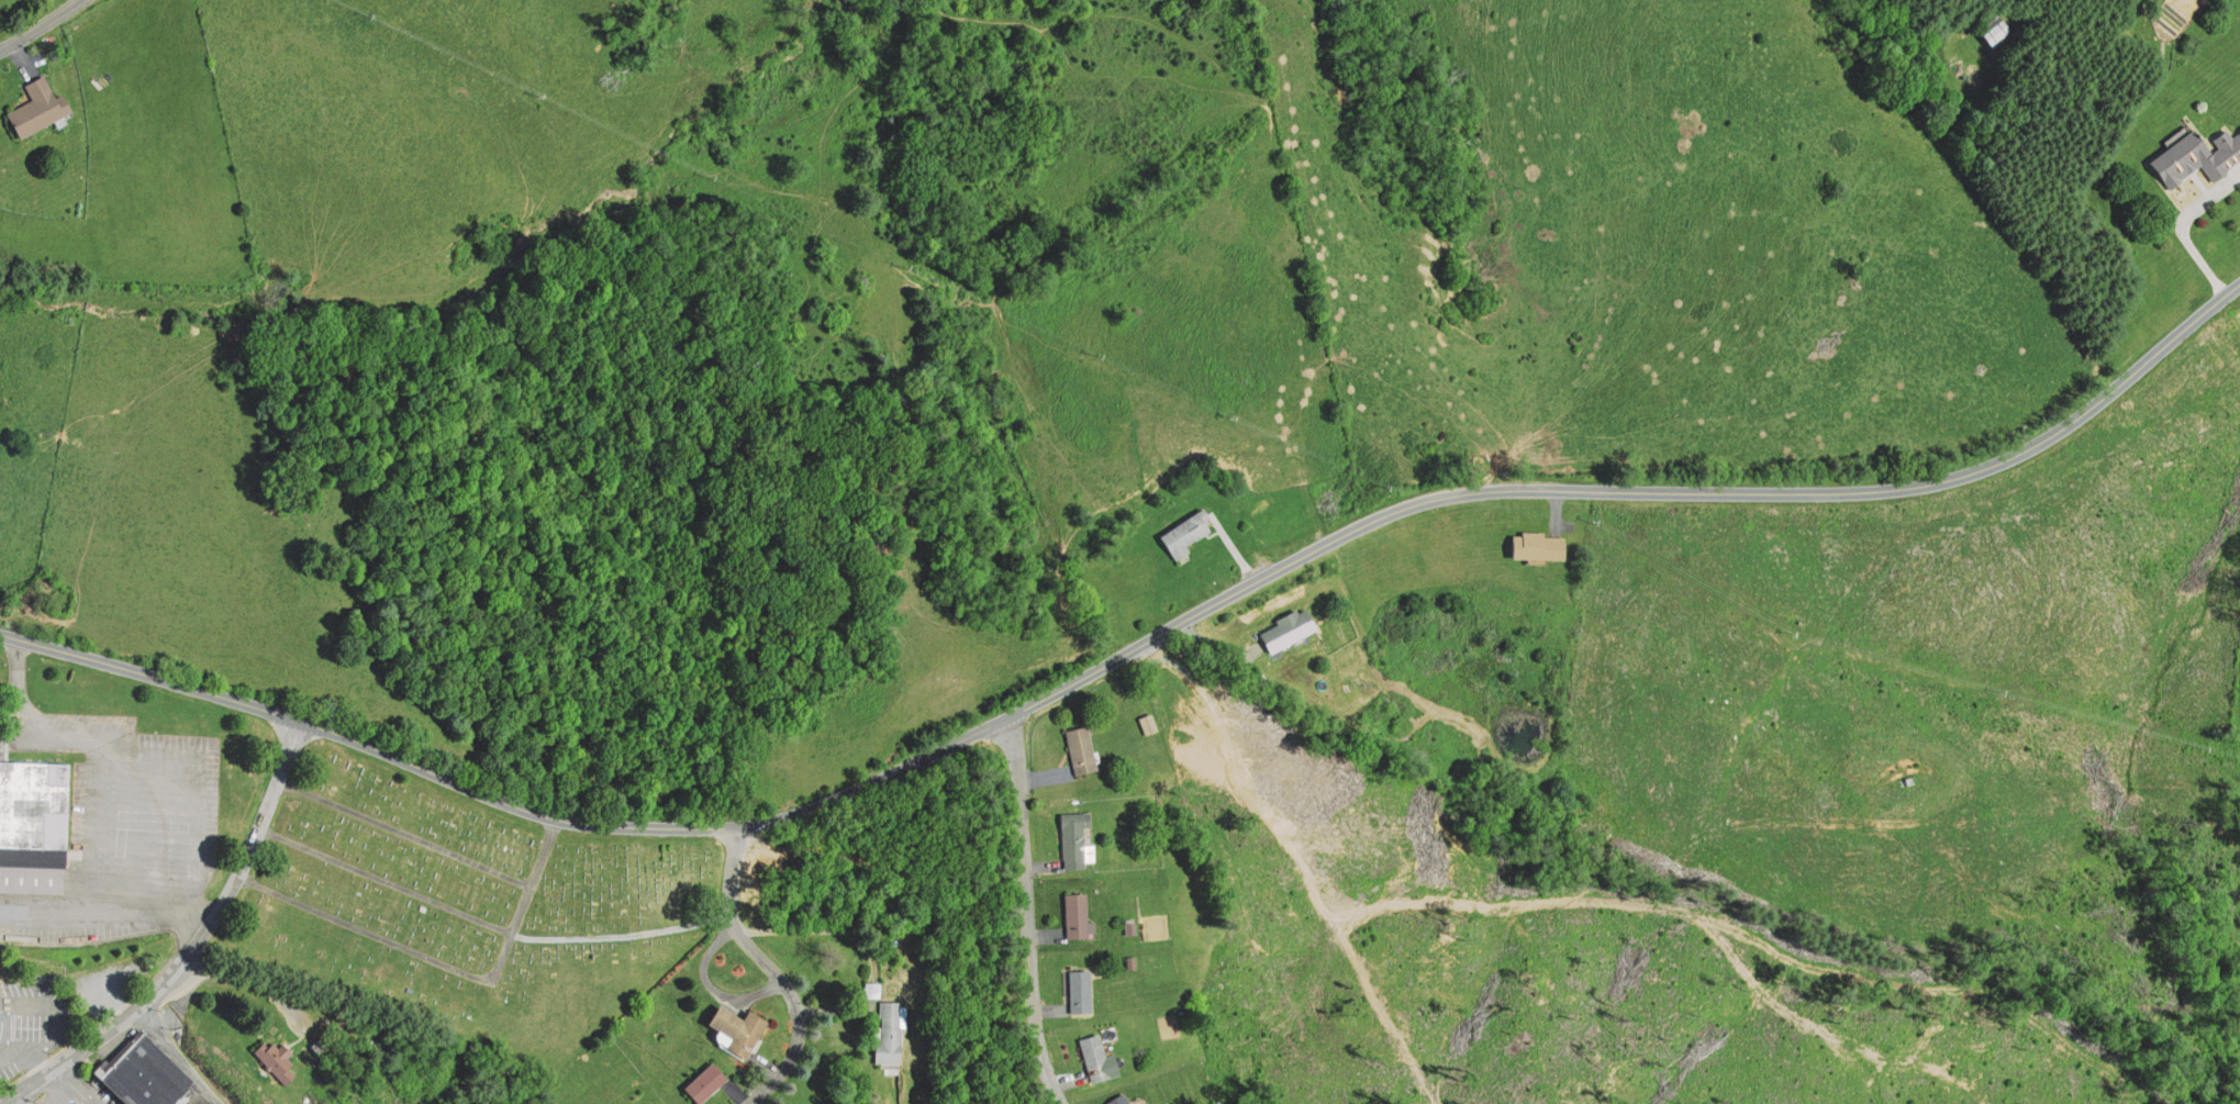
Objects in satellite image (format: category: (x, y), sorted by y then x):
road: (38, 24)
building: (2001, 32)
building: (35, 100)
building: (2198, 156)
building: (1182, 535)
building: (1539, 545)
building: (1285, 628)
road: (1133, 648)
building: (1149, 724)
building: (0, 735)
building: (1081, 749)
building: (36, 812)
building: (1073, 838)
park: (461, 904)
road: (1027, 914)
building: (1076, 914)
road: (194, 946)
road: (442, 962)
road: (770, 972)
building: (1079, 989)
building: (1, 1008)
building: (0, 1021)
building: (736, 1028)
building: (887, 1034)
building: (322, 1044)
building: (1093, 1055)
building: (275, 1060)
building: (140, 1073)
building: (709, 1083)
building: (190, 1095)
building: (1119, 1100)

